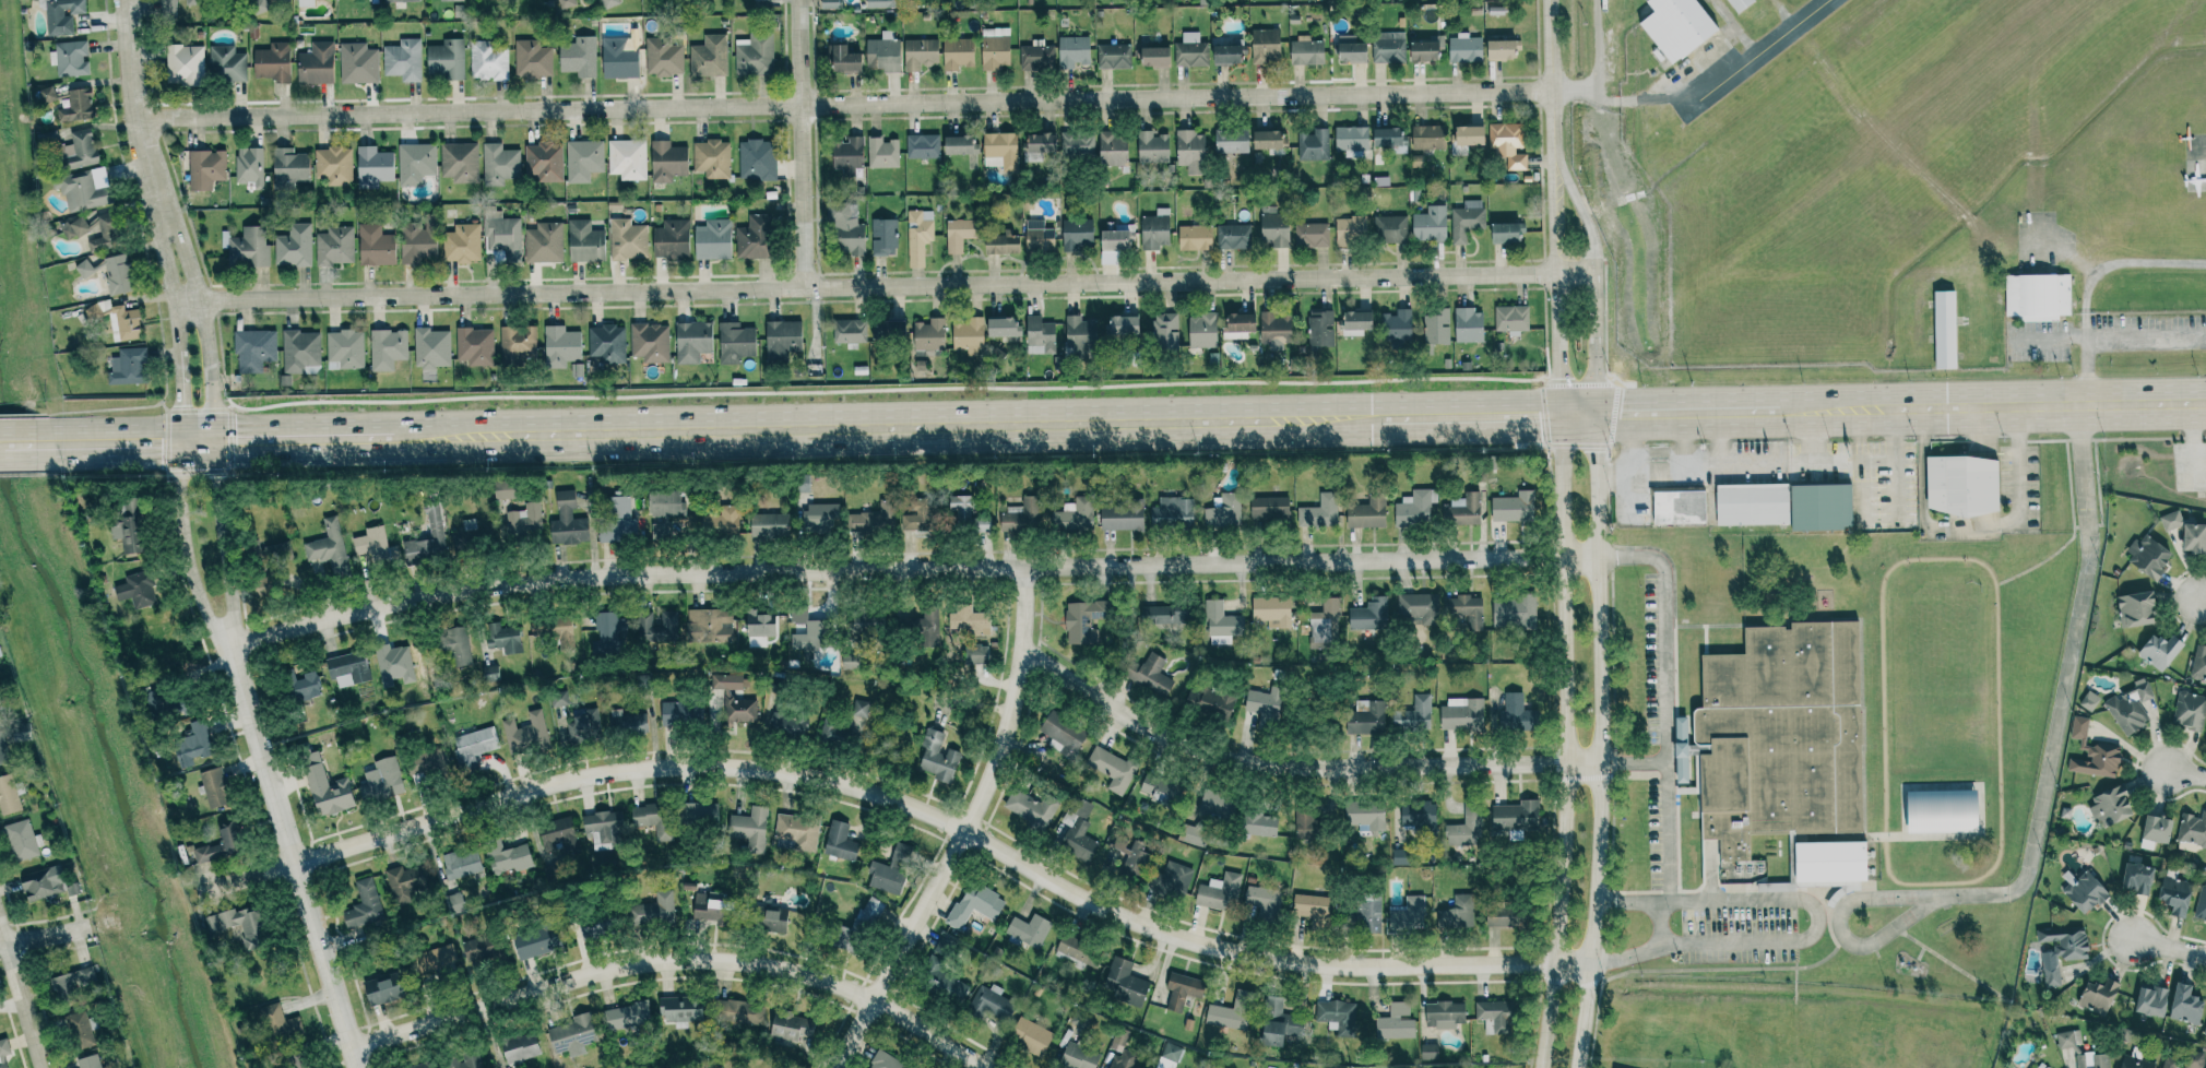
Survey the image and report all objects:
building: (282, 0)
building: (398, 0)
building: (450, 0)
building: (191, 1)
building: (304, 2)
building: (565, 3)
building: (608, 3)
building: (879, 3)
building: (828, 4)
building: (1743, 4)
building: (260, 5)
building: (167, 8)
building: (61, 15)
building: (1677, 27)
building: (1264, 46)
building: (1387, 47)
building: (995, 48)
building: (1425, 48)
building: (1463, 48)
building: (1350, 49)
building: (1502, 49)
building: (1189, 50)
building: (1072, 51)
building: (1305, 51)
building: (957, 52)
building: (918, 54)
building: (1226, 54)
building: (881, 55)
building: (1036, 55)
building: (708, 56)
building: (1113, 56)
building: (1153, 56)
airport taxiway: (1751, 56)
building: (578, 57)
building: (663, 57)
building: (69, 58)
building: (618, 58)
building: (403, 59)
building: (446, 59)
building: (532, 59)
building: (843, 59)
building: (487, 60)
building: (272, 62)
building: (316, 63)
building: (357, 63)
building: (183, 64)
building: (226, 64)
road: (1598, 71)
road: (1547, 75)
road: (131, 97)
building: (75, 105)
road: (841, 105)
building: (1386, 137)
building: (1426, 137)
building: (1350, 139)
building: (1466, 139)
building: (1266, 140)
building: (1230, 141)
building: (1077, 143)
road: (800, 144)
building: (957, 144)
building: (1507, 144)
building: (1313, 145)
building: (922, 146)
building: (1040, 146)
building: (1151, 146)
building: (1112, 149)
building: (79, 150)
building: (999, 151)
building: (1189, 151)
building: (881, 153)
building: (846, 155)
building: (711, 157)
building: (627, 158)
building: (756, 158)
building: (583, 159)
building: (543, 161)
building: (666, 161)
building: (459, 162)
airport apron: (2195, 162)
building: (415, 163)
building: (498, 164)
building: (248, 165)
building: (333, 165)
building: (288, 166)
building: (372, 166)
building: (205, 168)
airport: (1909, 182)
building: (83, 189)
road: (1553, 213)
building: (1466, 219)
building: (1430, 224)
building: (72, 226)
building: (1274, 226)
building: (843, 228)
building: (1389, 228)
building: (1154, 229)
building: (1350, 229)
building: (104, 233)
building: (1077, 233)
building: (1506, 233)
building: (960, 234)
building: (917, 235)
building: (1037, 235)
building: (1310, 235)
building: (501, 236)
building: (882, 236)
building: (1232, 236)
building: (754, 237)
building: (1194, 237)
building: (1116, 238)
building: (627, 239)
building: (671, 239)
building: (713, 240)
building: (584, 241)
building: (544, 242)
building: (1001, 242)
building: (416, 244)
building: (461, 244)
building: (373, 245)
building: (294, 246)
building: (334, 246)
building: (248, 248)
building: (109, 272)
road: (1574, 273)
road: (1593, 278)
road: (2091, 283)
road: (864, 287)
building: (2038, 295)
building: (117, 319)
building: (1511, 319)
building: (1355, 323)
building: (1468, 325)
building: (1001, 327)
building: (1122, 327)
building: (1236, 327)
building: (1395, 327)
building: (1436, 328)
building: (1319, 329)
building: (887, 330)
building: (1201, 330)
building: (847, 331)
building: (1273, 331)
building: (1947, 331)
building: (1164, 332)
building: (1079, 333)
building: (928, 334)
building: (966, 334)
building: (1039, 335)
parking lot: (2107, 335)
road: (2110, 335)
building: (782, 340)
building: (691, 341)
building: (650, 342)
building: (734, 342)
building: (606, 343)
building: (518, 344)
road: (1557, 344)
building: (559, 345)
building: (475, 346)
building: (344, 348)
building: (387, 348)
building: (430, 348)
building: (254, 349)
building: (299, 351)
building: (128, 367)
road: (1992, 407)
road: (1686, 413)
road: (214, 414)
road: (1577, 415)
traffic signals: (1594, 415)
traffic signals: (1559, 416)
road: (1471, 417)
road: (178, 423)
road: (888, 428)
road: (1806, 438)
road: (305, 439)
road: (2111, 439)
road: (1685, 440)
road: (1719, 440)
road: (199, 441)
road: (1632, 441)
road: (115, 442)
road: (2, 443)
road: (27, 443)
road: (1728, 467)
road: (1860, 467)
building: (800, 483)
road: (2097, 483)
road: (2068, 484)
building: (1961, 485)
building: (501, 493)
building: (1752, 505)
building: (1513, 507)
building: (1679, 507)
building: (1820, 507)
building: (1413, 508)
building: (1268, 509)
building: (1462, 510)
building: (662, 511)
building: (1222, 511)
building: (1319, 511)
building: (1172, 512)
building: (1366, 513)
building: (965, 514)
building: (1072, 514)
building: (1020, 515)
building: (1120, 515)
building: (817, 518)
building: (871, 520)
building: (918, 520)
building: (523, 521)
building: (567, 521)
building: (617, 521)
building: (720, 522)
building: (768, 525)
road: (1970, 526)
road: (2087, 526)
building: (127, 529)
building: (2186, 532)
building: (427, 538)
building: (463, 539)
building: (372, 545)
building: (328, 547)
building: (283, 550)
road: (2041, 561)
road: (908, 578)
building: (259, 588)
building: (135, 590)
road: (2201, 598)
building: (1416, 606)
building: (1466, 609)
building: (2135, 609)
building: (1271, 610)
building: (1513, 612)
building: (1161, 615)
building: (1368, 615)
building: (966, 621)
building: (1080, 621)
building: (759, 624)
building: (1221, 624)
building: (609, 625)
building: (709, 625)
building: (654, 626)
building: (554, 630)
road: (1663, 630)
building: (502, 638)
building: (809, 639)
building: (454, 645)
building: (2160, 651)
building: (0, 654)
building: (975, 654)
building: (2199, 663)
building: (345, 669)
building: (488, 673)
building: (1150, 674)
building: (726, 681)
building: (299, 686)
building: (562, 700)
building: (2089, 700)
building: (1209, 701)
building: (1262, 705)
building: (2130, 707)
building: (2190, 710)
building: (861, 711)
building: (739, 712)
building: (1513, 713)
building: (680, 714)
building: (1461, 714)
building: (1413, 715)
building: (1365, 717)
building: (627, 724)
building: (584, 725)
building: (786, 725)
building: (2079, 729)
building: (19, 732)
building: (524, 733)
building: (1062, 733)
road: (1600, 741)
building: (191, 743)
road: (1565, 743)
building: (1784, 745)
building: (473, 747)
building: (3, 749)
building: (937, 757)
building: (2097, 761)
road: (1633, 762)
building: (1111, 769)
road: (1295, 769)
road: (2182, 775)
building: (382, 779)
building: (213, 787)
building: (1159, 790)
building: (8, 795)
building: (1215, 804)
building: (2111, 806)
road: (897, 808)
building: (1030, 808)
road: (2040, 809)
building: (1941, 812)
building: (701, 815)
building: (1365, 816)
building: (1419, 816)
building: (1514, 816)
building: (652, 820)
building: (1303, 820)
building: (1259, 824)
building: (749, 828)
building: (2157, 828)
building: (1466, 829)
building: (602, 830)
building: (796, 831)
road: (960, 831)
road: (1667, 831)
building: (1190, 834)
building: (559, 835)
building: (1076, 835)
building: (21, 840)
building: (839, 842)
building: (218, 846)
road: (290, 855)
building: (1129, 855)
building: (505, 857)
building: (1399, 857)
road: (1886, 858)
building: (460, 864)
building: (889, 870)
building: (1172, 878)
building: (2137, 878)
building: (38, 885)
building: (399, 886)
building: (1218, 892)
building: (2085, 892)
building: (2174, 894)
building: (1261, 899)
building: (453, 904)
building: (974, 905)
building: (2201, 905)
building: (363, 906)
building: (708, 906)
building: (1312, 909)
building: (652, 913)
building: (1366, 913)
building: (1457, 913)
building: (1407, 915)
building: (1502, 915)
building: (769, 919)
road: (1659, 922)
building: (238, 926)
road: (1816, 926)
building: (1028, 930)
road: (43, 935)
building: (535, 942)
road: (2166, 948)
building: (482, 950)
building: (2061, 950)
building: (1077, 952)
road: (1920, 953)
road: (672, 959)
building: (435, 960)
road: (1950, 963)
road: (1719, 969)
road: (1794, 972)
building: (1124, 982)
building: (72, 983)
building: (380, 988)
building: (945, 988)
building: (1182, 990)
building: (2095, 997)
building: (2151, 1000)
building: (989, 1005)
building: (2185, 1005)
road: (19, 1008)
building: (679, 1009)
building: (738, 1011)
building: (626, 1016)
building: (1230, 1017)
building: (1494, 1017)
building: (1340, 1018)
building: (1395, 1022)
building: (276, 1023)
building: (1279, 1023)
building: (792, 1025)
building: (79, 1032)
building: (2205, 1032)
building: (572, 1033)
building: (1031, 1036)
building: (2067, 1040)
building: (4, 1046)
building: (518, 1049)
building: (1172, 1052)
building: (1428, 1052)
building: (1123, 1053)
building: (1079, 1056)
building: (465, 1059)
building: (2194, 1059)
building: (2092, 1060)
building: (886, 1061)
building: (88, 1063)
building: (2135, 1063)
building: (2168, 1063)
building: (3, 1066)
building: (427, 1066)
building: (2031, 1067)

